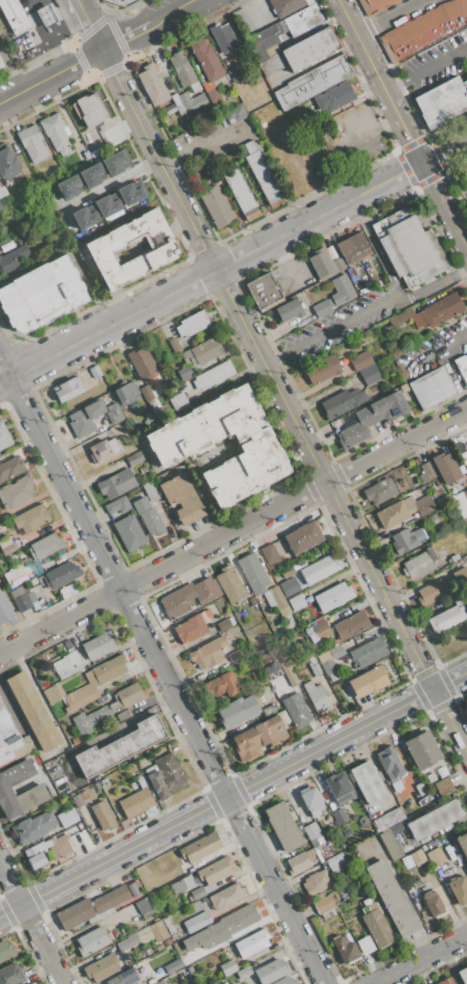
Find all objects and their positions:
building: (122, 2)
building: (287, 5)
building: (373, 5)
road: (176, 13)
building: (13, 15)
building: (45, 15)
parking lot: (254, 15)
road: (390, 16)
road: (91, 25)
building: (285, 28)
building: (423, 29)
parking lot: (35, 30)
building: (224, 37)
road: (127, 38)
building: (311, 48)
parking lot: (435, 62)
building: (270, 64)
building: (0, 66)
building: (207, 66)
road: (426, 69)
road: (66, 70)
building: (184, 71)
building: (235, 79)
building: (313, 81)
building: (152, 84)
road: (14, 97)
building: (332, 97)
building: (443, 101)
building: (184, 104)
building: (90, 109)
building: (234, 113)
building: (363, 121)
road: (402, 123)
building: (56, 132)
parking lot: (212, 137)
building: (32, 143)
parking lot: (339, 148)
road: (444, 152)
building: (114, 163)
building: (8, 164)
building: (262, 174)
building: (92, 175)
parking lot: (460, 183)
building: (69, 187)
building: (236, 188)
building: (2, 191)
building: (132, 192)
building: (107, 205)
building: (215, 207)
building: (0, 208)
building: (84, 217)
road: (375, 246)
building: (353, 247)
building: (409, 247)
building: (163, 250)
building: (13, 261)
building: (324, 264)
road: (210, 271)
road: (430, 287)
building: (263, 289)
building: (364, 289)
building: (341, 290)
building: (40, 295)
building: (321, 308)
building: (288, 309)
building: (432, 312)
building: (192, 323)
parking lot: (329, 329)
road: (330, 329)
building: (168, 331)
building: (175, 345)
building: (202, 350)
parking lot: (433, 351)
building: (361, 359)
road: (446, 360)
building: (142, 363)
building: (462, 366)
building: (322, 369)
building: (95, 371)
building: (184, 372)
building: (213, 375)
building: (369, 375)
building: (432, 387)
building: (69, 389)
building: (127, 393)
building: (179, 401)
road: (283, 401)
building: (342, 403)
building: (155, 405)
building: (114, 414)
building: (373, 416)
building: (86, 418)
building: (4, 435)
building: (178, 447)
fountain: (223, 449)
building: (103, 450)
building: (134, 458)
building: (414, 462)
building: (466, 466)
building: (446, 467)
building: (11, 468)
building: (427, 472)
building: (116, 484)
building: (383, 490)
building: (16, 491)
building: (151, 492)
building: (465, 492)
building: (182, 499)
building: (442, 501)
building: (460, 503)
building: (117, 505)
building: (161, 510)
building: (403, 511)
building: (148, 517)
building: (31, 518)
road: (233, 530)
building: (128, 533)
building: (303, 537)
building: (407, 540)
building: (7, 546)
building: (46, 546)
building: (431, 554)
building: (270, 556)
building: (455, 557)
building: (416, 565)
building: (318, 570)
building: (288, 572)
building: (253, 574)
building: (60, 575)
building: (14, 576)
building: (230, 584)
building: (72, 587)
building: (289, 587)
building: (442, 587)
building: (65, 595)
building: (333, 596)
building: (31, 597)
building: (189, 597)
building: (20, 599)
building: (268, 599)
building: (279, 601)
building: (297, 602)
building: (5, 609)
building: (223, 613)
building: (446, 618)
building: (223, 625)
building: (351, 625)
building: (192, 626)
building: (320, 627)
building: (308, 631)
building: (98, 645)
building: (209, 652)
building: (336, 652)
building: (368, 652)
building: (234, 655)
building: (67, 665)
building: (314, 665)
building: (272, 670)
road: (162, 672)
building: (289, 673)
building: (258, 676)
building: (333, 676)
building: (95, 681)
building: (368, 681)
building: (223, 684)
building: (285, 693)
building: (51, 694)
building: (128, 695)
building: (317, 697)
building: (103, 698)
building: (271, 708)
building: (33, 710)
building: (237, 710)
building: (296, 711)
building: (340, 711)
building: (123, 716)
building: (283, 717)
building: (89, 719)
building: (7, 733)
building: (258, 738)
building: (75, 741)
building: (120, 747)
building: (22, 749)
building: (423, 750)
building: (389, 763)
building: (136, 769)
building: (442, 771)
building: (165, 775)
building: (430, 778)
building: (104, 781)
building: (142, 781)
building: (367, 783)
building: (396, 785)
building: (96, 786)
building: (339, 786)
building: (444, 787)
building: (420, 788)
building: (35, 791)
road: (232, 793)
building: (81, 798)
building: (310, 800)
building: (136, 802)
building: (103, 815)
building: (340, 816)
building: (67, 817)
building: (388, 818)
building: (434, 820)
building: (364, 822)
building: (283, 826)
building: (34, 827)
building: (311, 830)
building: (346, 832)
building: (84, 833)
building: (463, 843)
building: (391, 844)
building: (201, 847)
building: (52, 849)
building: (417, 857)
building: (436, 857)
building: (300, 861)
building: (407, 861)
building: (335, 863)
building: (466, 863)
building: (215, 870)
building: (422, 870)
building: (316, 881)
building: (181, 884)
building: (133, 888)
building: (210, 888)
building: (459, 889)
building: (196, 893)
building: (226, 896)
building: (318, 896)
building: (392, 898)
building: (324, 904)
building: (433, 904)
building: (91, 907)
building: (145, 908)
building: (328, 913)
building: (99, 916)
building: (239, 919)
building: (196, 921)
road: (31, 923)
building: (169, 924)
building: (376, 925)
building: (215, 927)
building: (158, 931)
building: (92, 941)
building: (127, 942)
building: (167, 942)
building: (252, 942)
building: (211, 944)
building: (365, 945)
building: (159, 946)
building: (5, 949)
building: (345, 949)
building: (145, 952)
building: (183, 953)
road: (422, 960)
building: (178, 963)
building: (101, 967)
building: (227, 967)
building: (189, 969)
building: (272, 970)
building: (244, 972)
building: (10, 974)
building: (462, 975)
building: (124, 977)
building: (287, 980)
building: (446, 981)
building: (31, 983)

